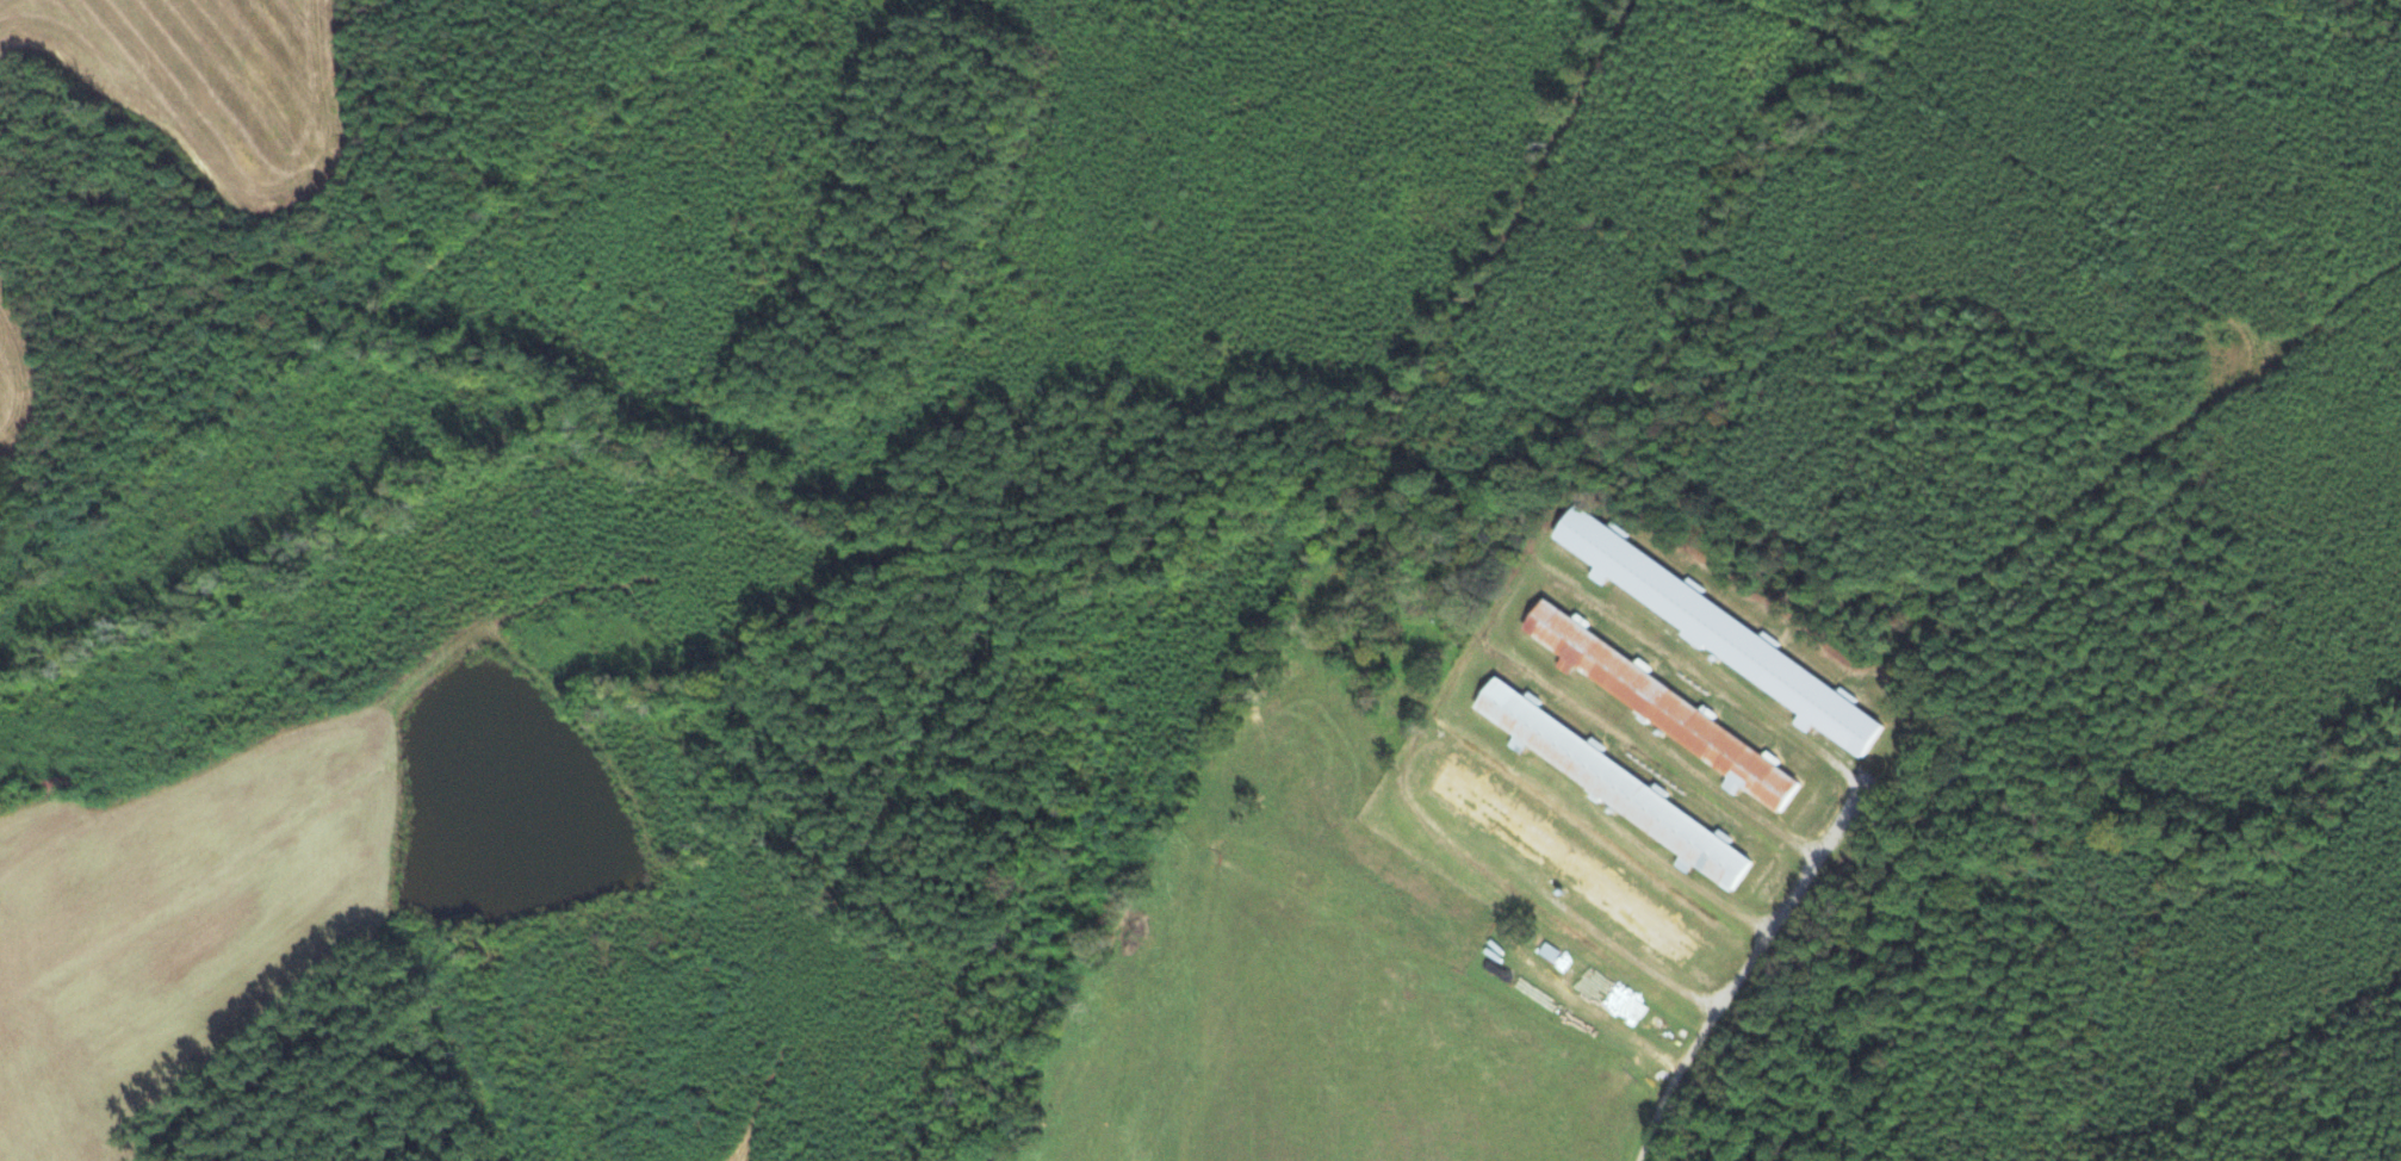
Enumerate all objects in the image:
building: (1719, 632)
building: (1658, 704)
building: (1614, 786)
building: (1559, 865)
road: (1745, 961)

